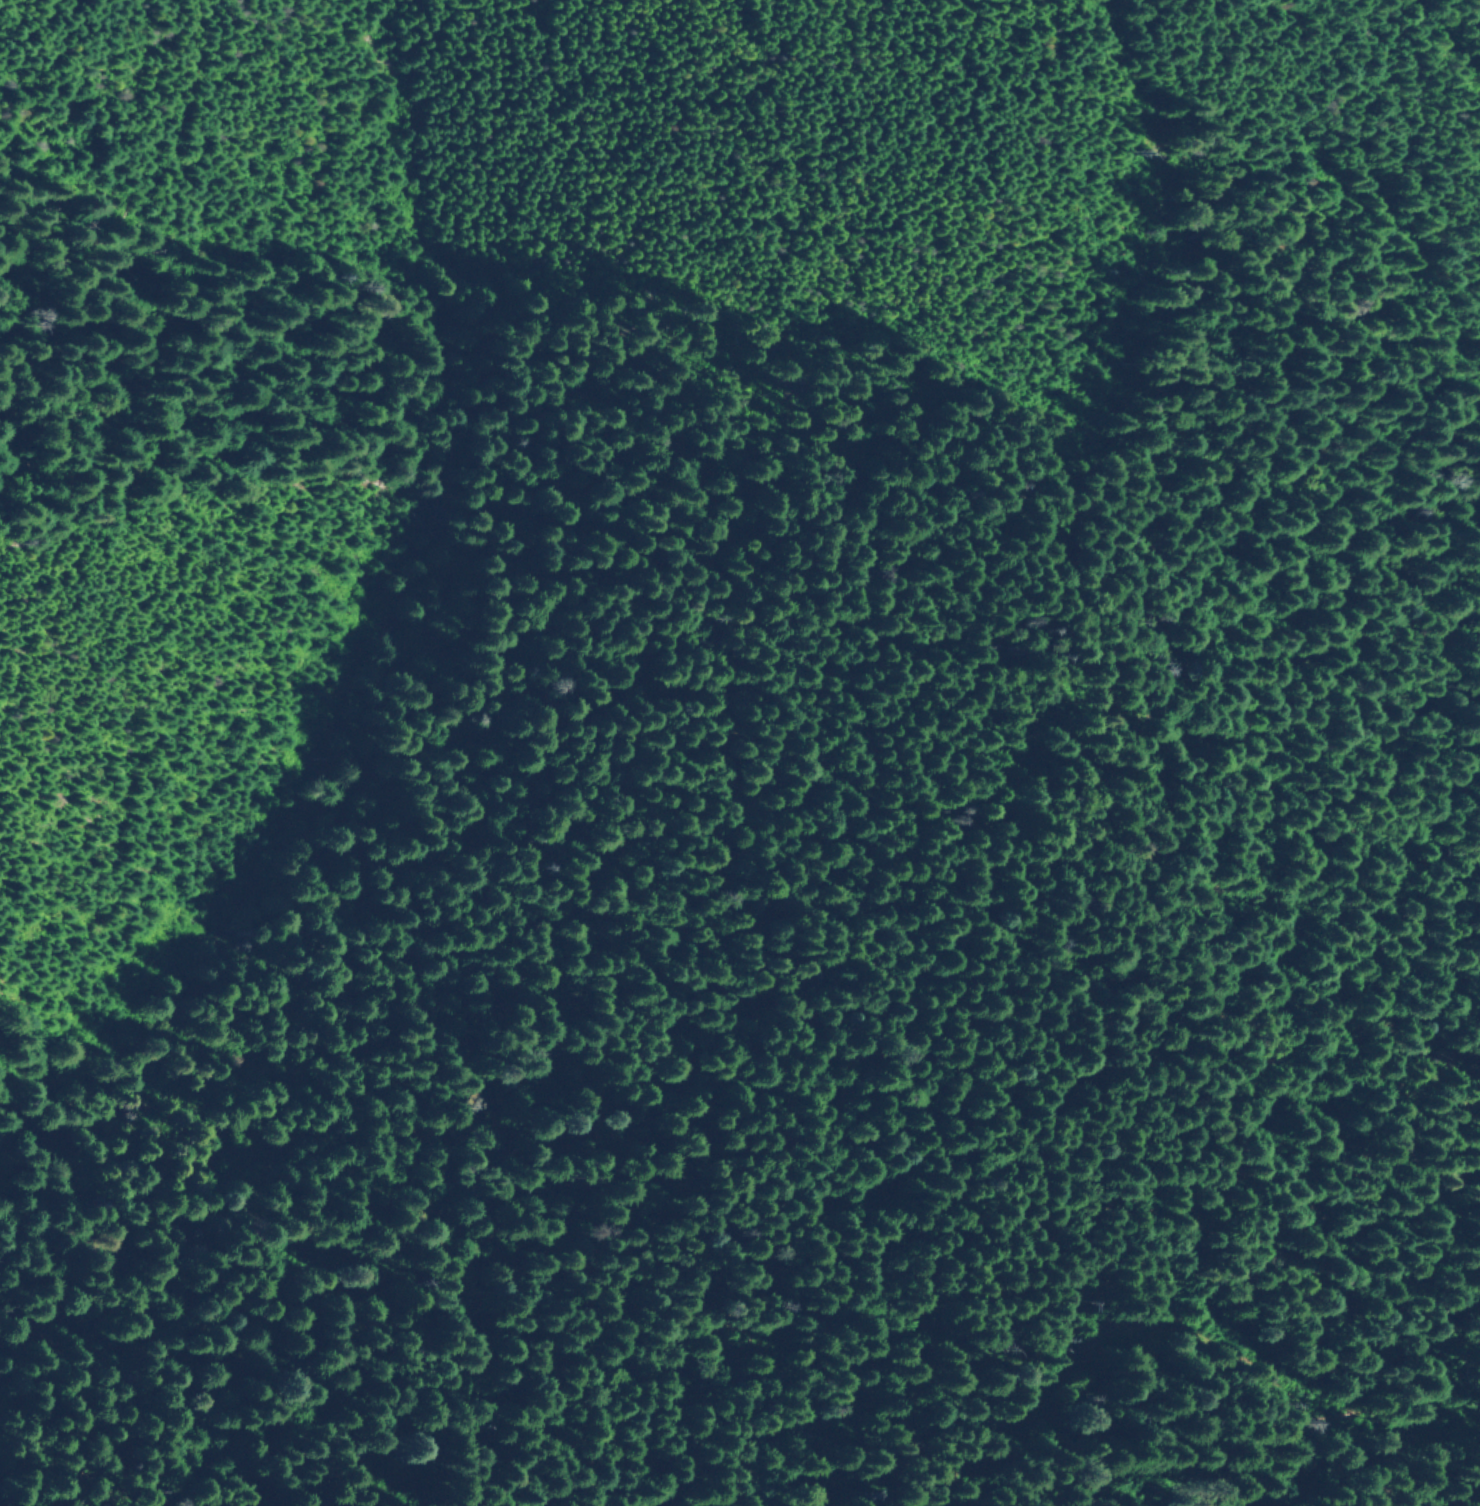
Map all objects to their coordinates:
road: (1170, 1313)

